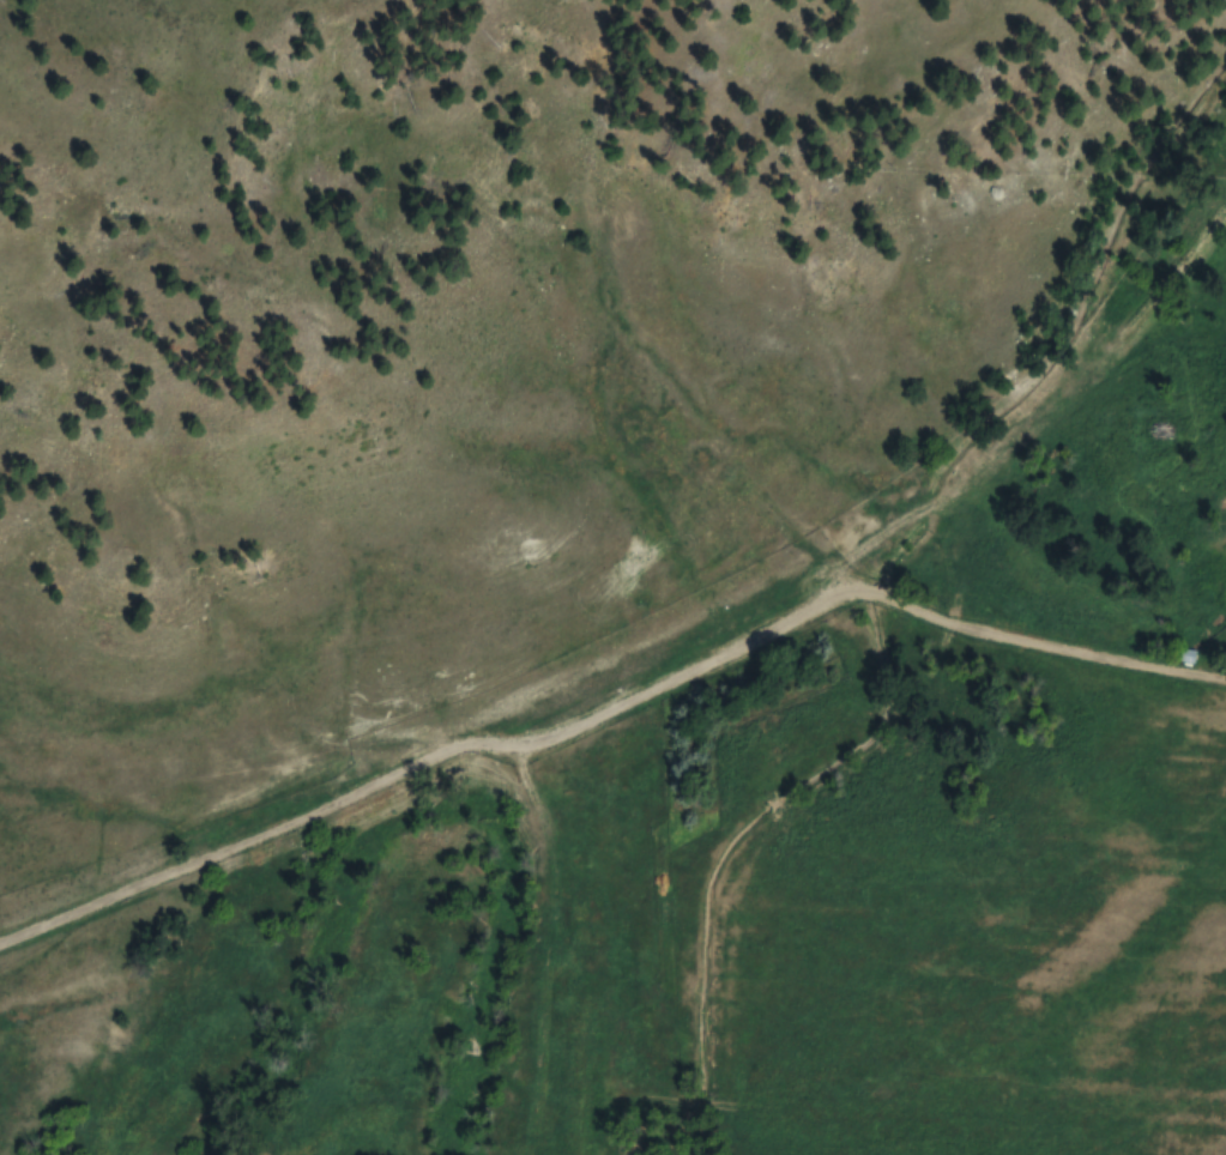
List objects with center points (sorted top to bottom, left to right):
building: (1186, 655)
road: (610, 712)

